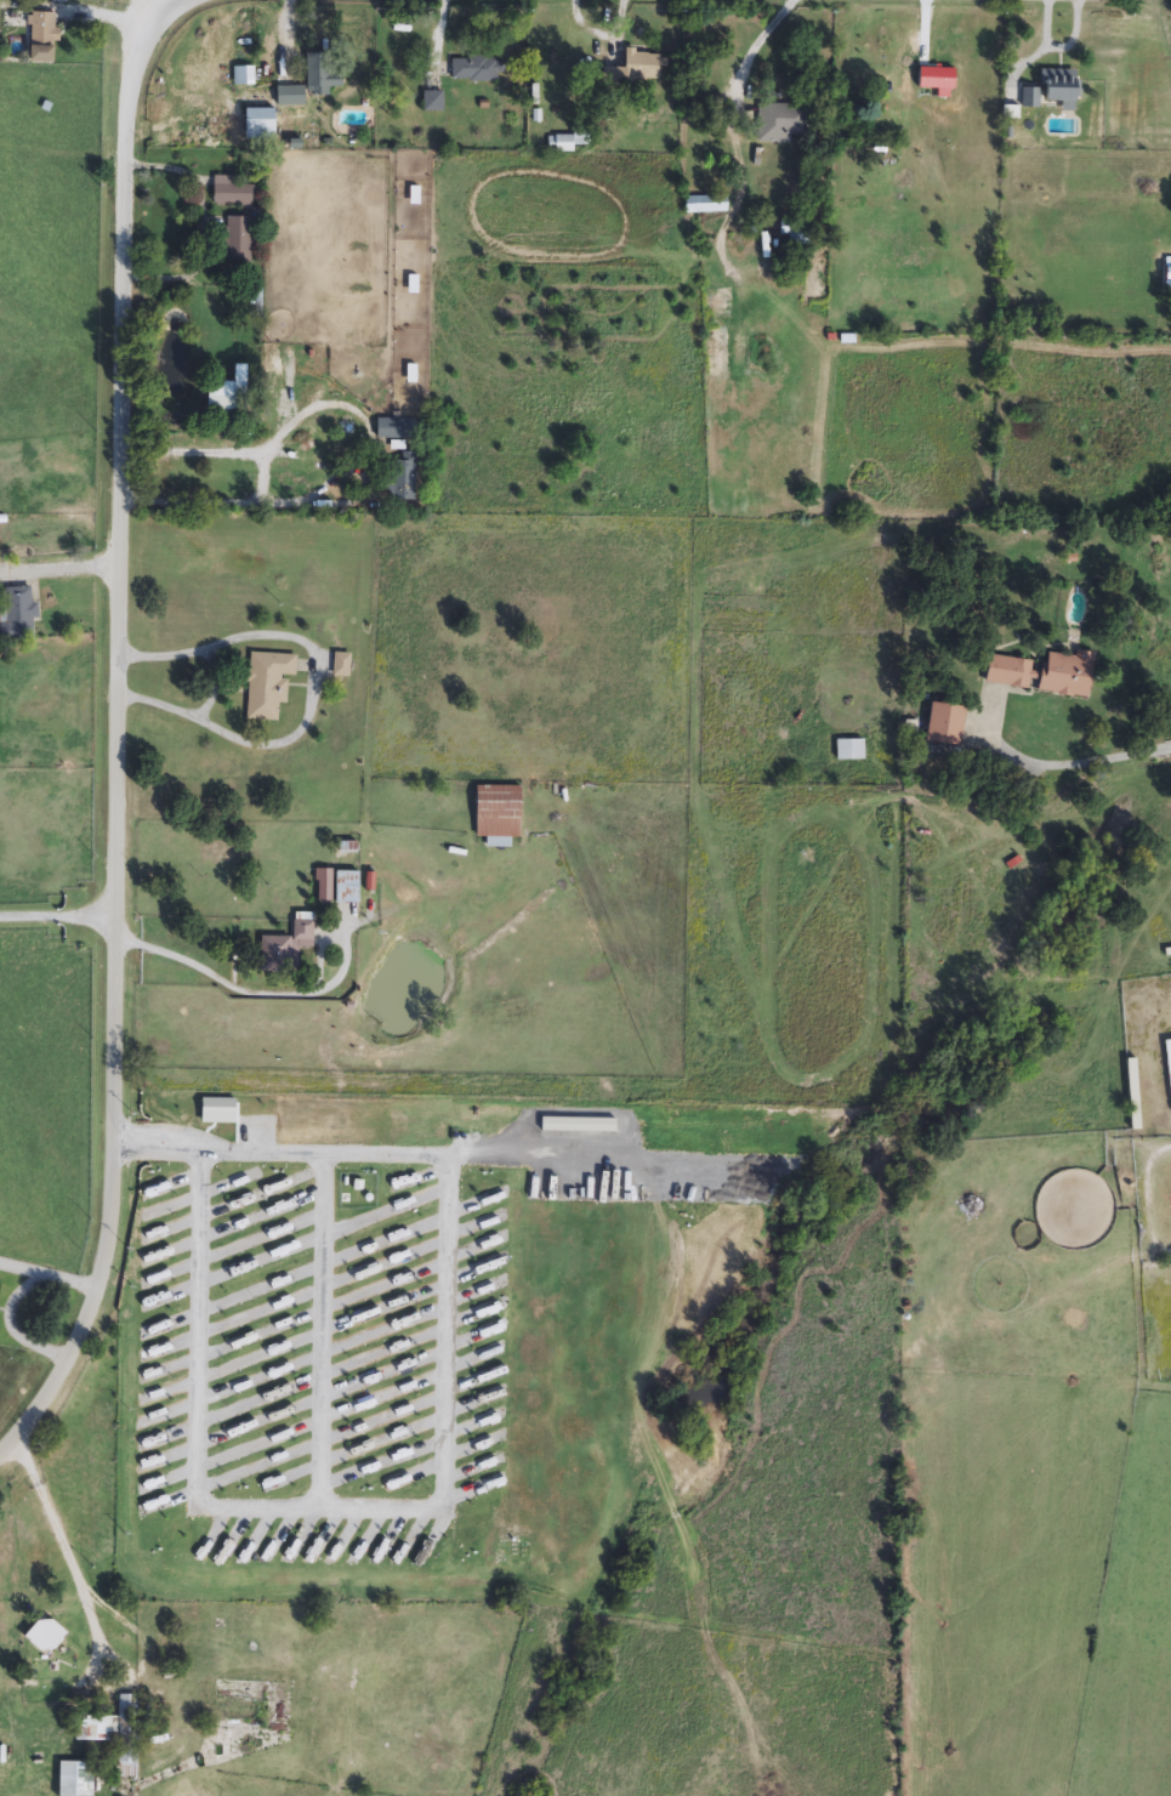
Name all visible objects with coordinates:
road: (160, 4)
building: (45, 36)
building: (476, 69)
building: (318, 70)
building: (635, 70)
building: (1053, 91)
building: (433, 103)
building: (275, 113)
building: (400, 119)
building: (780, 123)
building: (231, 193)
building: (706, 205)
building: (237, 240)
building: (1166, 272)
building: (400, 373)
building: (231, 397)
building: (396, 430)
road: (252, 451)
building: (400, 478)
road: (274, 501)
road: (58, 570)
building: (19, 613)
building: (341, 665)
building: (1007, 672)
building: (1064, 676)
building: (268, 684)
road: (314, 684)
building: (943, 723)
road: (114, 732)
building: (852, 751)
road: (1084, 763)
building: (501, 814)
building: (349, 888)
road: (55, 920)
building: (288, 947)
road: (279, 993)
building: (1169, 1058)
building: (1136, 1096)
road: (55, 1271)
building: (0, 1285)
road: (15, 1324)
road: (318, 1325)
road: (439, 1453)
road: (68, 1542)
building: (55, 1641)
building: (129, 1751)

